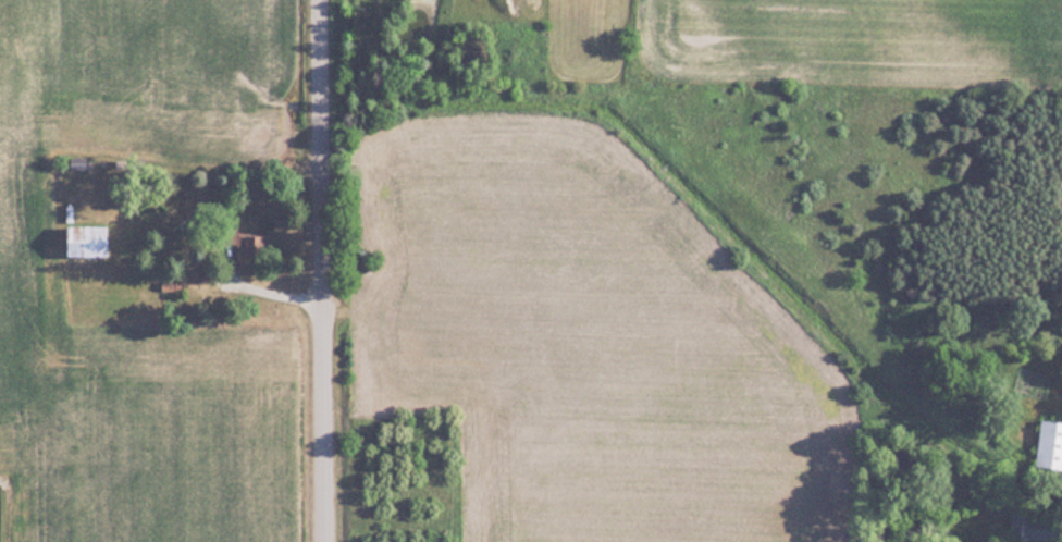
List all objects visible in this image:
building: (89, 239)
building: (254, 246)
road: (326, 270)
building: (1050, 444)
building: (1033, 526)

